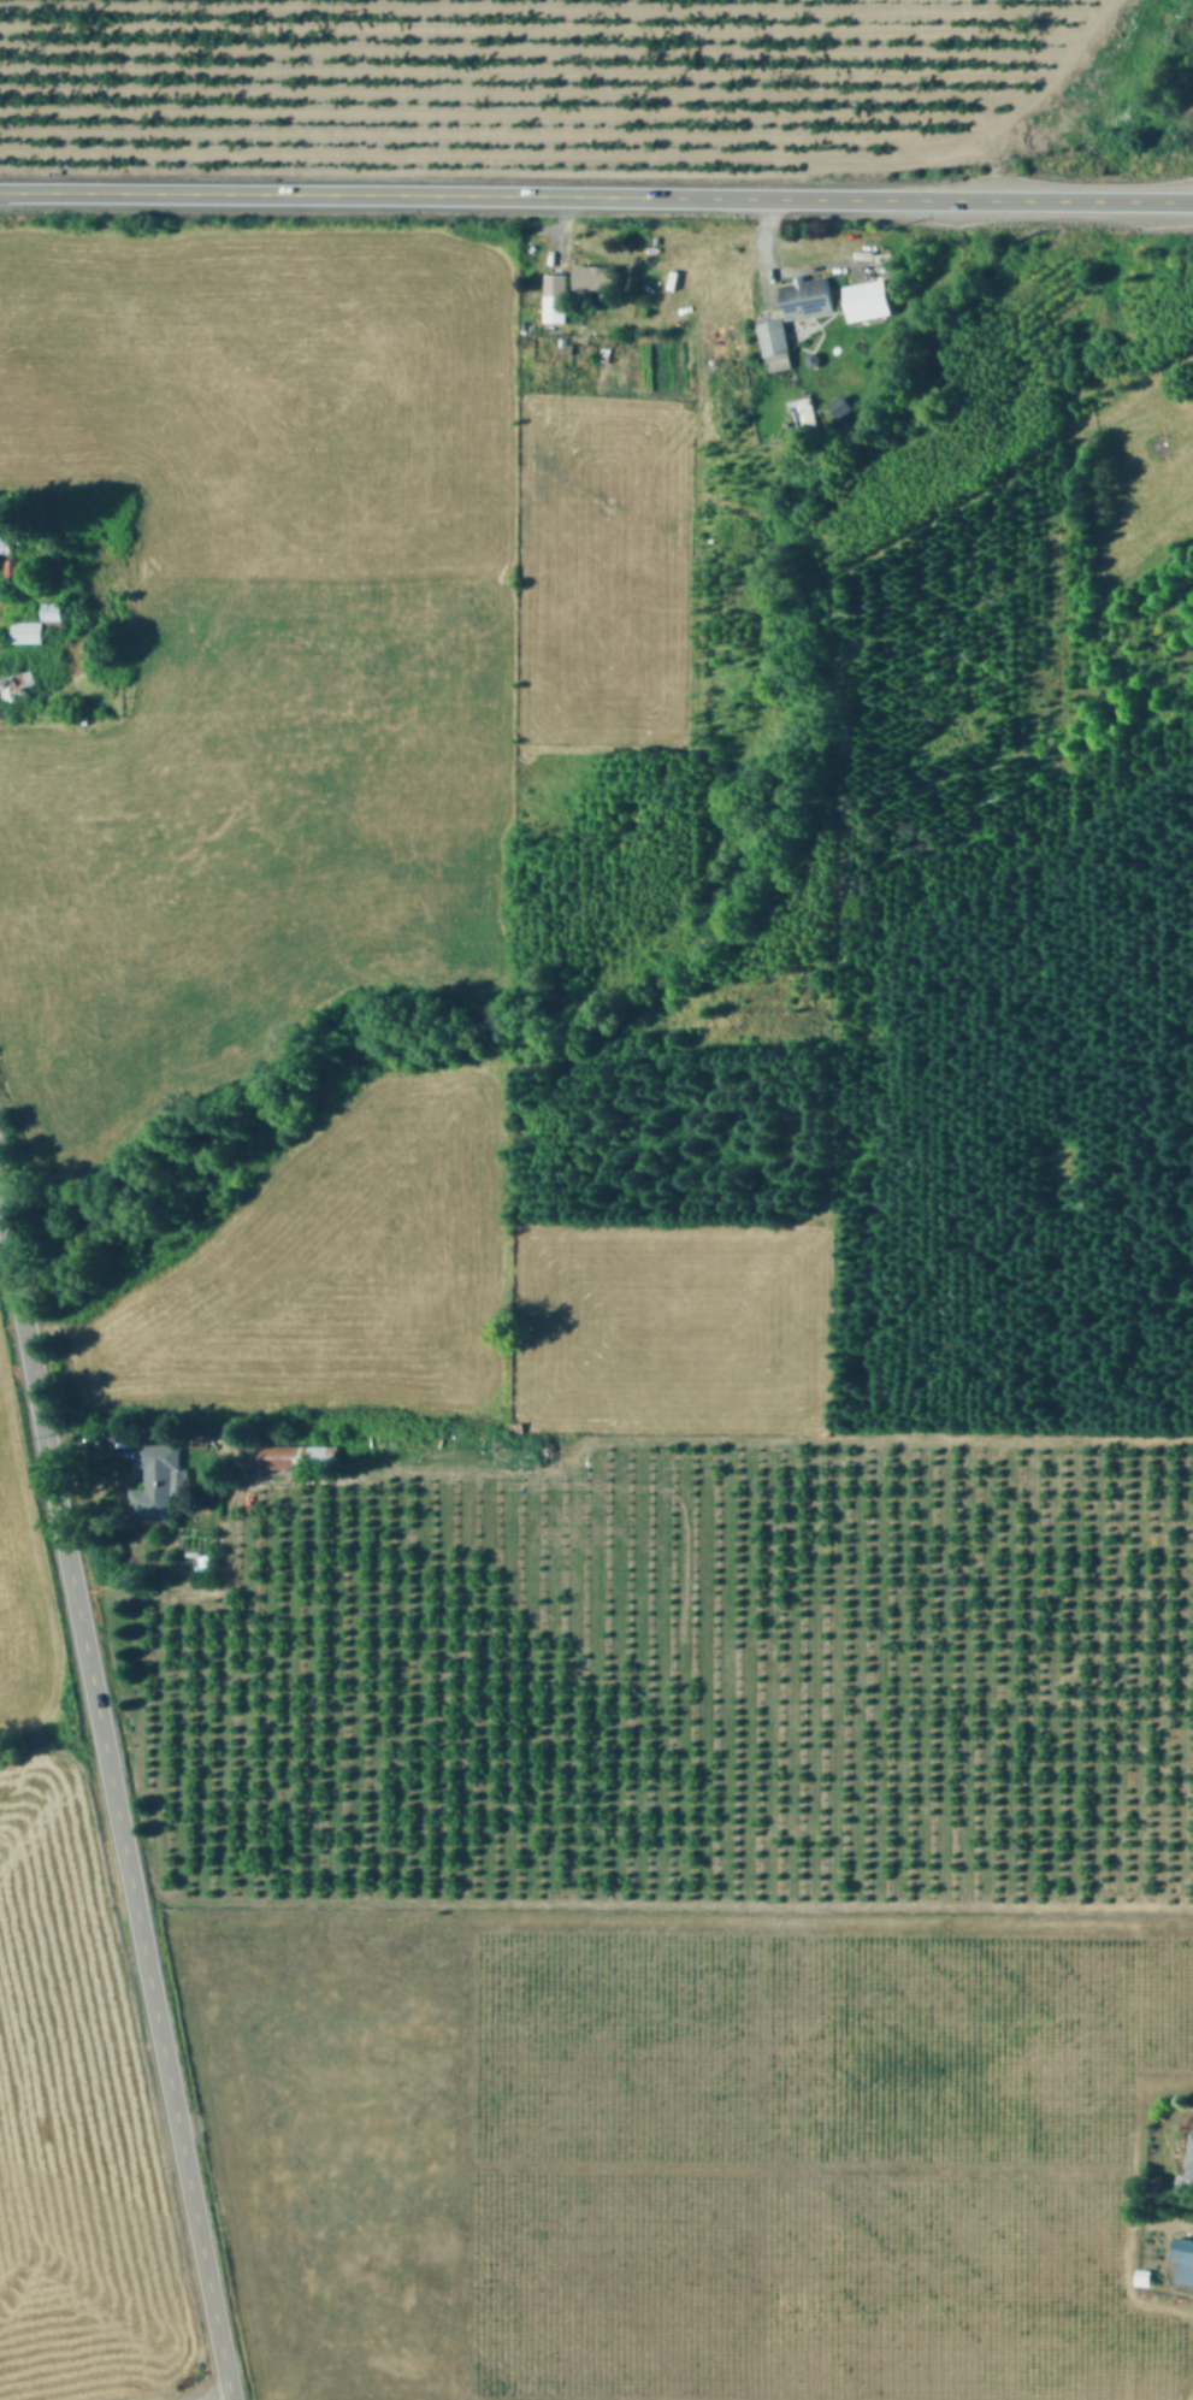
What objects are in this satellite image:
road: (596, 196)
building: (593, 276)
building: (807, 295)
building: (556, 296)
building: (868, 299)
building: (775, 343)
building: (6, 538)
building: (12, 566)
building: (51, 609)
building: (26, 630)
building: (153, 1480)
road: (116, 1803)
crop: (70, 2041)
crop: (698, 2147)
building: (1186, 2257)
road: (226, 2399)

